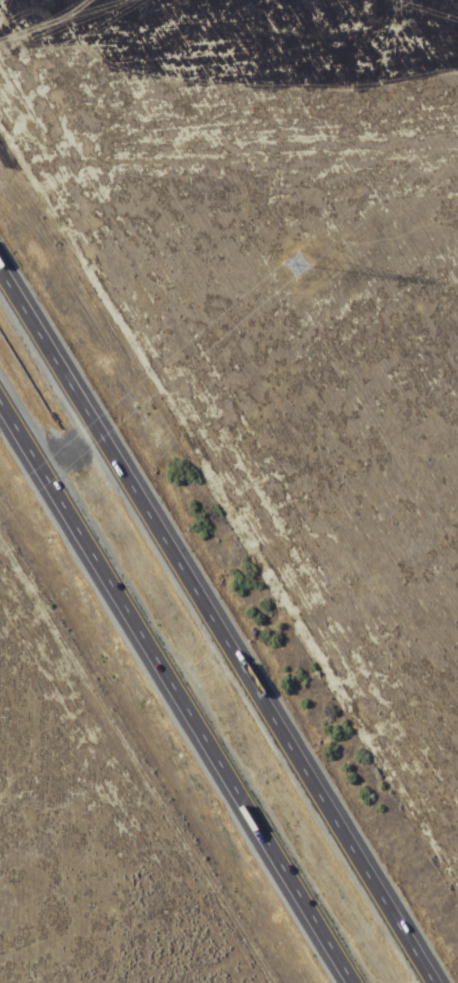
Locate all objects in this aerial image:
power tower: (296, 265)
road: (217, 624)
road: (180, 685)

